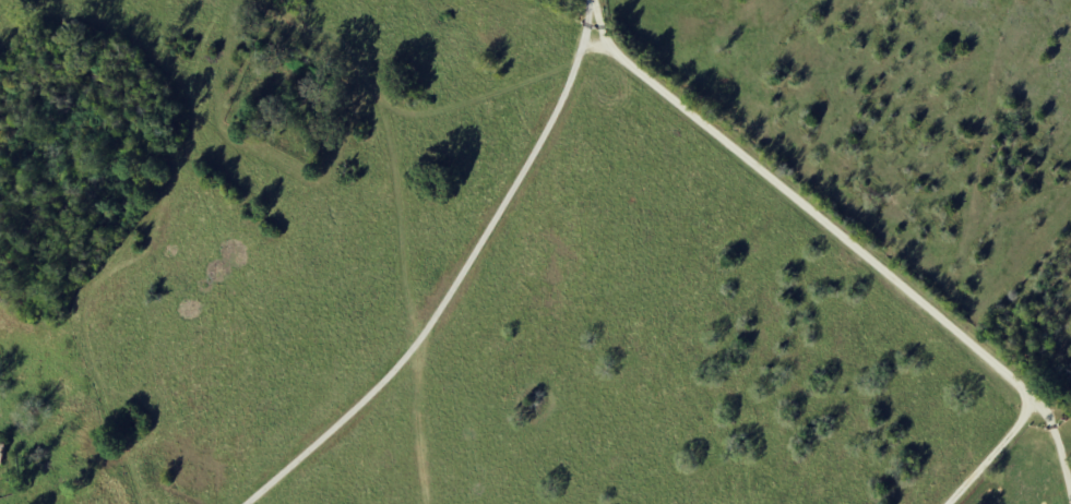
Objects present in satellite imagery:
park: (281, 105)
road: (860, 257)
road: (460, 277)
building: (1, 454)

